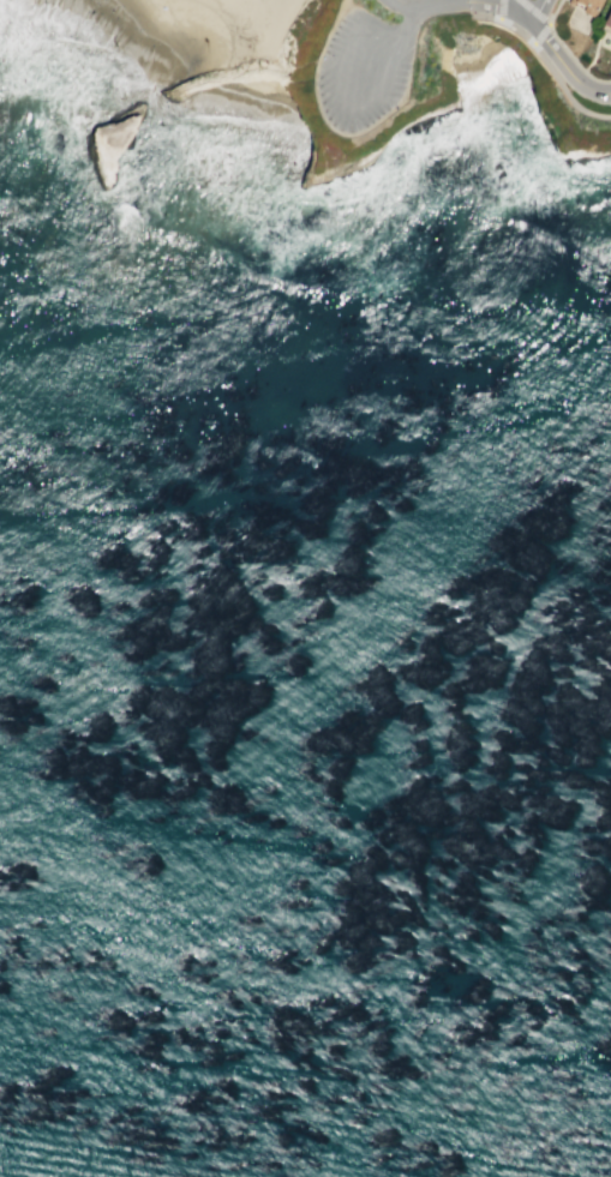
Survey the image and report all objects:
road: (462, 1)
road: (460, 2)
building: (592, 6)
road: (519, 8)
road: (501, 11)
road: (419, 12)
road: (533, 12)
road: (533, 13)
road: (516, 23)
road: (411, 24)
road: (507, 25)
building: (609, 26)
road: (540, 36)
road: (399, 44)
road: (565, 49)
road: (561, 61)
parking lot: (364, 71)
park: (306, 74)
road: (343, 78)
road: (556, 80)

